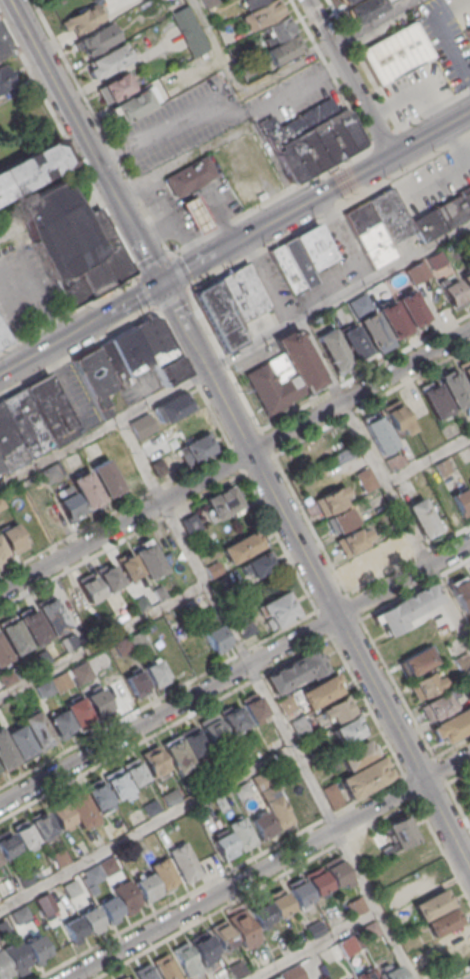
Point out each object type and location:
building: (344, 1)
building: (208, 2)
building: (251, 3)
building: (363, 8)
parking lot: (449, 9)
road: (451, 9)
building: (263, 14)
building: (81, 19)
road: (302, 23)
building: (280, 28)
building: (187, 30)
building: (469, 30)
building: (97, 39)
building: (4, 44)
road: (449, 47)
building: (285, 49)
parking lot: (447, 49)
road: (318, 52)
building: (395, 53)
building: (105, 61)
road: (323, 61)
road: (364, 65)
building: (244, 67)
road: (329, 72)
road: (278, 73)
road: (348, 77)
building: (5, 78)
road: (469, 82)
building: (114, 88)
building: (132, 105)
road: (218, 108)
road: (430, 109)
road: (351, 114)
road: (381, 137)
road: (223, 138)
building: (310, 138)
road: (84, 141)
road: (408, 146)
road: (417, 162)
road: (379, 163)
building: (32, 167)
building: (190, 176)
road: (388, 178)
building: (253, 179)
road: (330, 211)
building: (196, 214)
gas station: (196, 214)
building: (390, 215)
building: (442, 216)
building: (369, 234)
building: (72, 242)
road: (235, 242)
road: (185, 246)
building: (313, 247)
building: (435, 260)
building: (298, 262)
building: (286, 269)
road: (384, 271)
building: (416, 271)
building: (466, 278)
traffic signals: (160, 283)
building: (452, 292)
building: (245, 297)
building: (411, 308)
building: (218, 316)
building: (392, 319)
road: (183, 327)
building: (373, 329)
road: (13, 331)
building: (2, 339)
building: (353, 342)
road: (252, 345)
building: (333, 350)
building: (141, 353)
building: (466, 370)
road: (365, 372)
building: (284, 374)
building: (95, 380)
building: (454, 389)
building: (435, 399)
building: (173, 407)
building: (50, 411)
building: (395, 415)
building: (26, 422)
building: (142, 425)
road: (102, 427)
building: (379, 433)
building: (10, 443)
building: (196, 448)
road: (428, 458)
road: (235, 461)
building: (393, 462)
building: (1, 467)
building: (157, 467)
building: (442, 467)
building: (49, 474)
building: (469, 475)
building: (106, 477)
building: (365, 479)
road: (384, 479)
building: (469, 484)
building: (86, 489)
building: (331, 500)
building: (462, 500)
building: (221, 501)
building: (2, 503)
building: (70, 506)
building: (422, 518)
building: (340, 520)
building: (190, 523)
building: (12, 538)
building: (353, 540)
building: (241, 547)
building: (2, 551)
building: (148, 560)
building: (380, 560)
building: (260, 563)
building: (128, 565)
building: (214, 569)
building: (469, 571)
building: (469, 575)
building: (108, 576)
building: (222, 584)
building: (89, 586)
building: (460, 591)
building: (159, 592)
building: (140, 603)
building: (406, 608)
building: (277, 610)
building: (52, 615)
road: (338, 619)
building: (244, 625)
building: (33, 626)
building: (14, 636)
building: (214, 636)
road: (102, 639)
building: (139, 639)
building: (3, 653)
building: (417, 661)
building: (461, 661)
building: (295, 671)
road: (234, 672)
building: (156, 673)
building: (62, 680)
building: (137, 683)
building: (424, 685)
building: (44, 688)
building: (318, 690)
road: (266, 698)
building: (97, 701)
building: (286, 704)
building: (435, 706)
building: (252, 707)
building: (336, 709)
building: (77, 710)
building: (233, 719)
building: (61, 724)
building: (452, 725)
building: (299, 728)
building: (37, 730)
building: (210, 730)
building: (348, 730)
building: (192, 740)
building: (21, 742)
building: (275, 743)
road: (452, 747)
road: (127, 748)
building: (6, 752)
building: (177, 754)
building: (354, 754)
building: (154, 760)
road: (440, 771)
building: (135, 772)
building: (0, 775)
building: (364, 777)
road: (458, 777)
building: (117, 782)
building: (468, 783)
building: (242, 790)
building: (98, 794)
building: (332, 795)
building: (170, 797)
building: (273, 798)
building: (220, 802)
road: (458, 805)
building: (81, 808)
building: (151, 808)
building: (60, 814)
building: (42, 825)
building: (262, 825)
road: (146, 827)
building: (402, 831)
building: (241, 833)
building: (24, 834)
building: (7, 844)
building: (225, 845)
building: (387, 852)
building: (60, 857)
building: (0, 860)
building: (184, 861)
building: (108, 866)
road: (268, 866)
building: (337, 871)
building: (164, 873)
building: (93, 874)
building: (27, 876)
building: (318, 881)
building: (72, 887)
building: (148, 888)
building: (299, 892)
building: (47, 896)
building: (127, 896)
building: (279, 903)
building: (433, 904)
building: (358, 905)
building: (110, 909)
building: (260, 913)
building: (21, 914)
building: (336, 917)
building: (91, 920)
building: (444, 922)
building: (5, 926)
building: (316, 928)
building: (244, 929)
building: (372, 929)
building: (74, 930)
building: (223, 936)
road: (317, 945)
building: (349, 945)
building: (204, 947)
building: (36, 949)
building: (17, 956)
building: (186, 958)
building: (460, 961)
building: (5, 967)
building: (165, 967)
building: (238, 969)
building: (145, 972)
building: (293, 973)
building: (368, 973)
building: (394, 973)
road: (459, 973)
building: (127, 976)
building: (278, 977)

